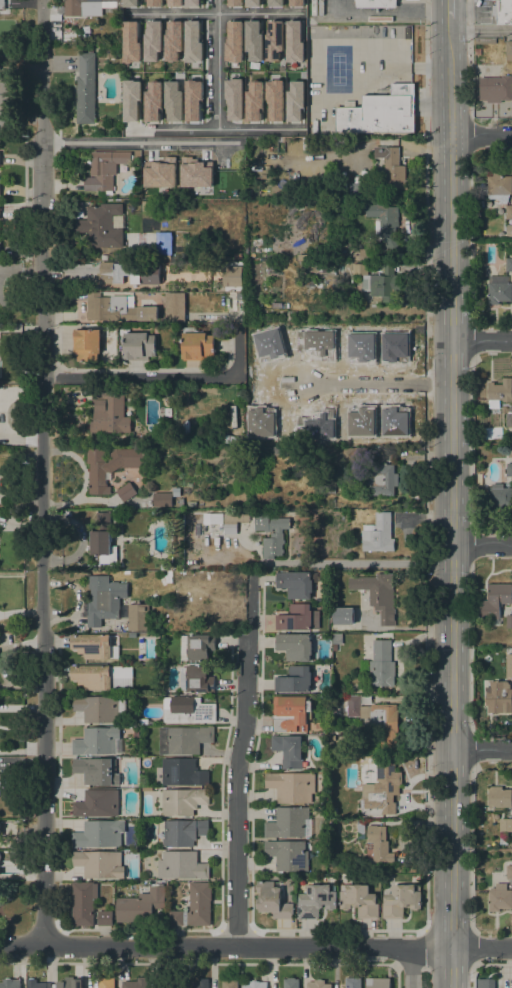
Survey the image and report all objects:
building: (129, 2)
building: (153, 2)
building: (174, 2)
building: (234, 2)
building: (251, 2)
building: (275, 2)
building: (296, 2)
building: (191, 3)
building: (376, 3)
building: (2, 4)
building: (86, 7)
road: (401, 7)
road: (449, 9)
road: (213, 12)
building: (503, 12)
road: (391, 15)
road: (480, 30)
building: (152, 39)
building: (253, 39)
building: (172, 40)
building: (274, 40)
building: (130, 41)
building: (192, 41)
building: (233, 41)
building: (293, 41)
building: (485, 41)
building: (508, 50)
building: (477, 52)
road: (469, 59)
road: (400, 60)
road: (217, 64)
building: (479, 71)
road: (1, 77)
building: (500, 86)
building: (85, 89)
building: (233, 97)
building: (274, 98)
building: (131, 99)
building: (192, 99)
building: (152, 100)
building: (172, 100)
building: (253, 100)
building: (294, 100)
road: (433, 105)
building: (382, 114)
road: (1, 119)
road: (22, 120)
road: (214, 128)
road: (481, 136)
road: (130, 141)
building: (392, 167)
building: (104, 170)
building: (196, 173)
building: (159, 174)
building: (499, 187)
building: (146, 205)
building: (508, 211)
building: (384, 224)
building: (101, 226)
building: (509, 230)
road: (471, 235)
building: (163, 245)
building: (364, 251)
building: (237, 255)
building: (508, 264)
building: (129, 273)
building: (191, 273)
building: (232, 276)
road: (427, 281)
building: (379, 282)
building: (498, 289)
building: (240, 295)
building: (174, 307)
building: (117, 308)
building: (321, 326)
building: (343, 333)
road: (481, 340)
building: (87, 344)
building: (197, 344)
building: (139, 346)
building: (379, 352)
road: (163, 376)
building: (511, 376)
road: (374, 383)
building: (499, 392)
building: (109, 411)
building: (509, 419)
building: (214, 420)
road: (470, 441)
building: (277, 450)
building: (344, 455)
building: (110, 465)
building: (509, 469)
road: (43, 472)
building: (381, 479)
building: (126, 491)
building: (176, 491)
building: (498, 495)
building: (162, 499)
building: (181, 501)
road: (451, 502)
building: (191, 503)
building: (216, 518)
building: (233, 521)
building: (271, 533)
building: (378, 533)
building: (103, 539)
road: (481, 544)
road: (359, 564)
building: (162, 567)
building: (296, 584)
building: (378, 594)
building: (103, 599)
building: (495, 601)
building: (344, 616)
building: (138, 617)
building: (296, 618)
building: (509, 621)
building: (92, 645)
building: (196, 646)
building: (294, 646)
building: (334, 647)
road: (470, 647)
building: (382, 650)
building: (509, 663)
building: (381, 673)
building: (103, 676)
building: (195, 679)
building: (294, 680)
building: (499, 697)
building: (99, 708)
building: (188, 709)
building: (291, 713)
building: (376, 720)
building: (184, 739)
building: (98, 742)
road: (481, 748)
building: (288, 750)
road: (240, 760)
road: (426, 760)
building: (97, 771)
building: (183, 772)
building: (366, 772)
building: (292, 786)
building: (381, 791)
building: (499, 797)
building: (183, 801)
building: (97, 803)
building: (287, 822)
building: (505, 824)
building: (360, 826)
building: (183, 832)
building: (99, 834)
building: (379, 843)
road: (470, 848)
building: (287, 854)
building: (99, 863)
building: (181, 865)
building: (0, 868)
building: (509, 871)
building: (499, 897)
building: (272, 899)
building: (316, 900)
building: (359, 900)
building: (400, 900)
building: (83, 902)
building: (140, 905)
building: (194, 906)
building: (104, 918)
road: (256, 946)
road: (397, 946)
road: (412, 967)
road: (473, 974)
road: (396, 975)
building: (106, 982)
building: (352, 982)
building: (377, 982)
building: (10, 983)
building: (69, 983)
building: (135, 983)
building: (197, 983)
building: (229, 983)
building: (291, 983)
building: (487, 983)
building: (36, 984)
building: (160, 984)
building: (255, 984)
building: (317, 984)

